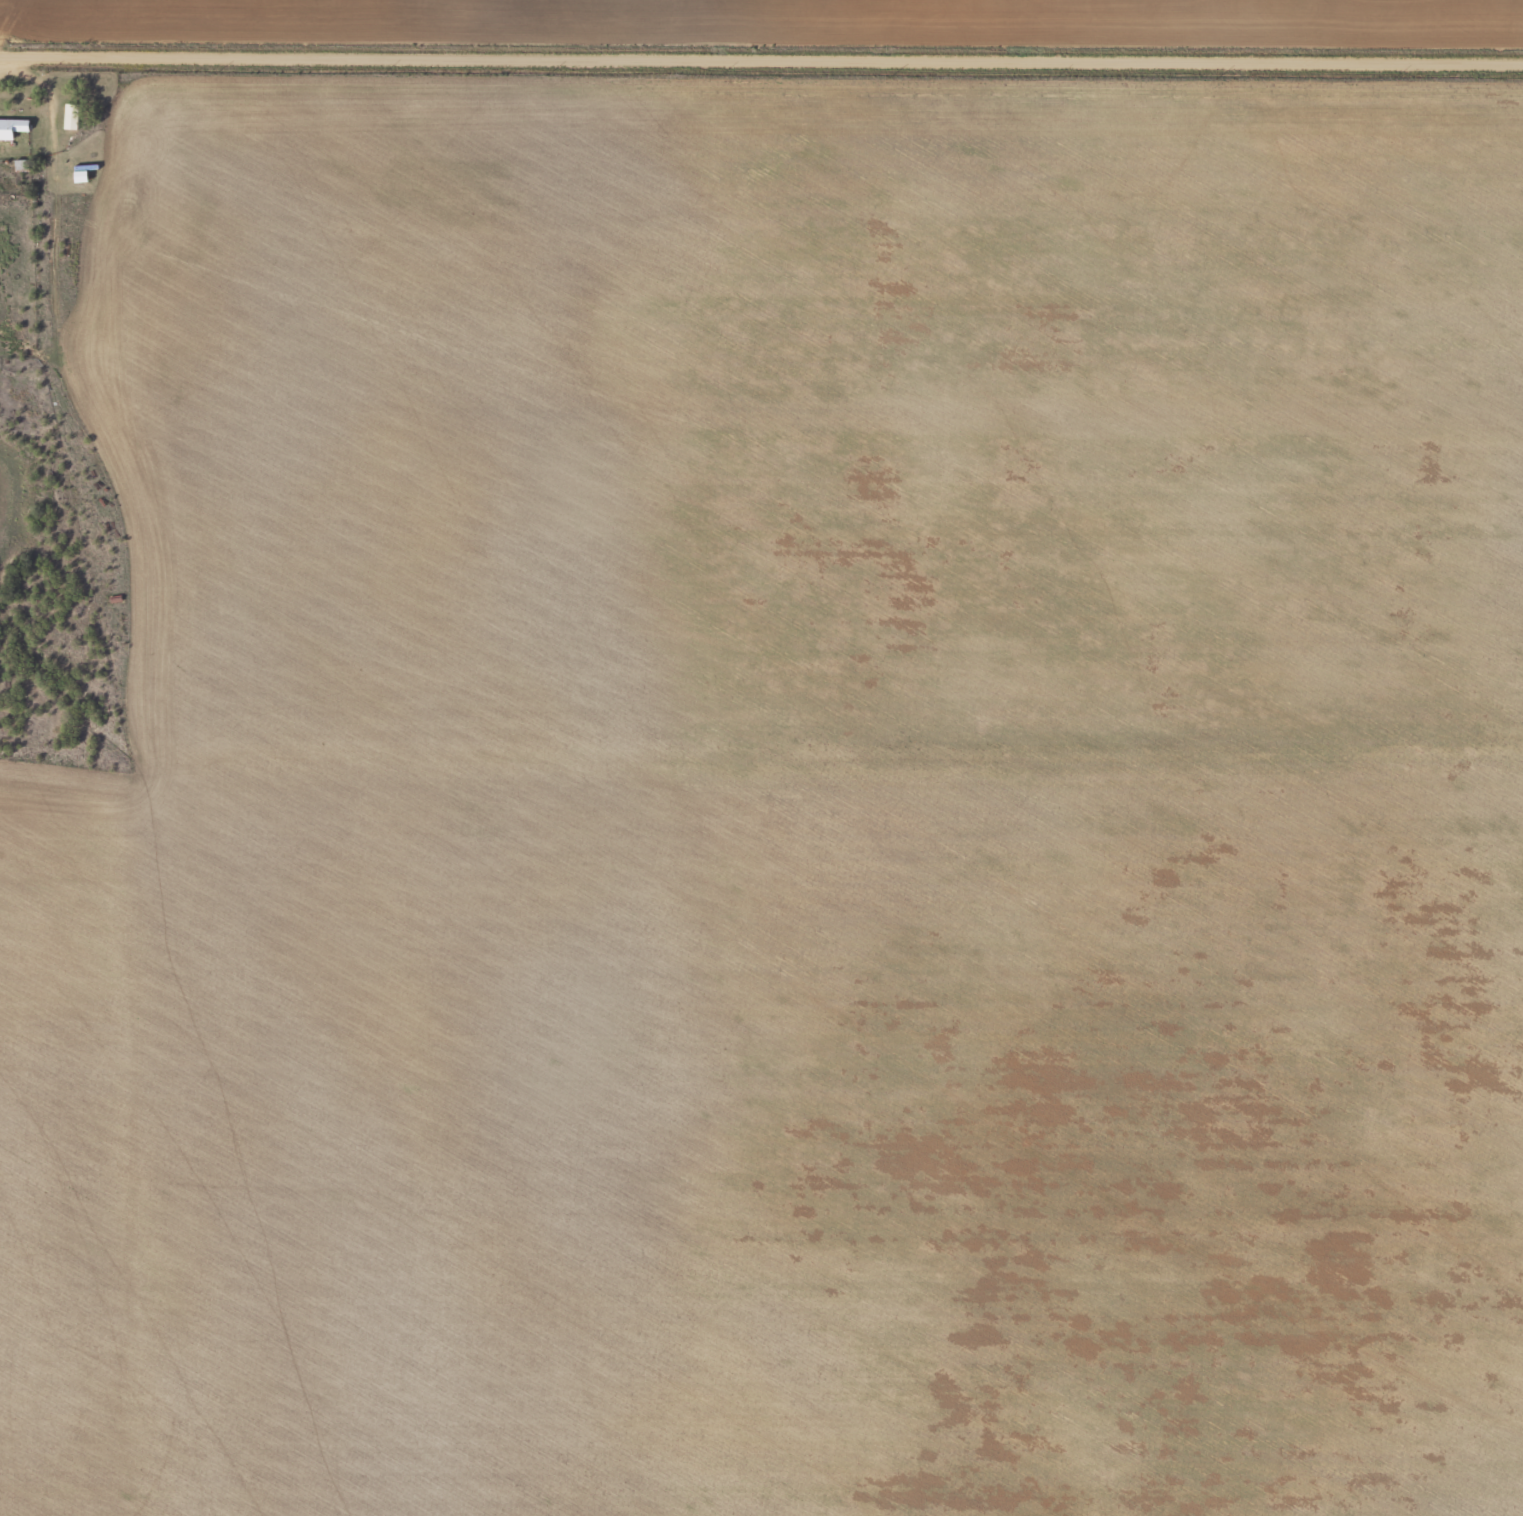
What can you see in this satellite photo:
road: (761, 78)
building: (12, 129)
building: (21, 166)
building: (80, 178)

